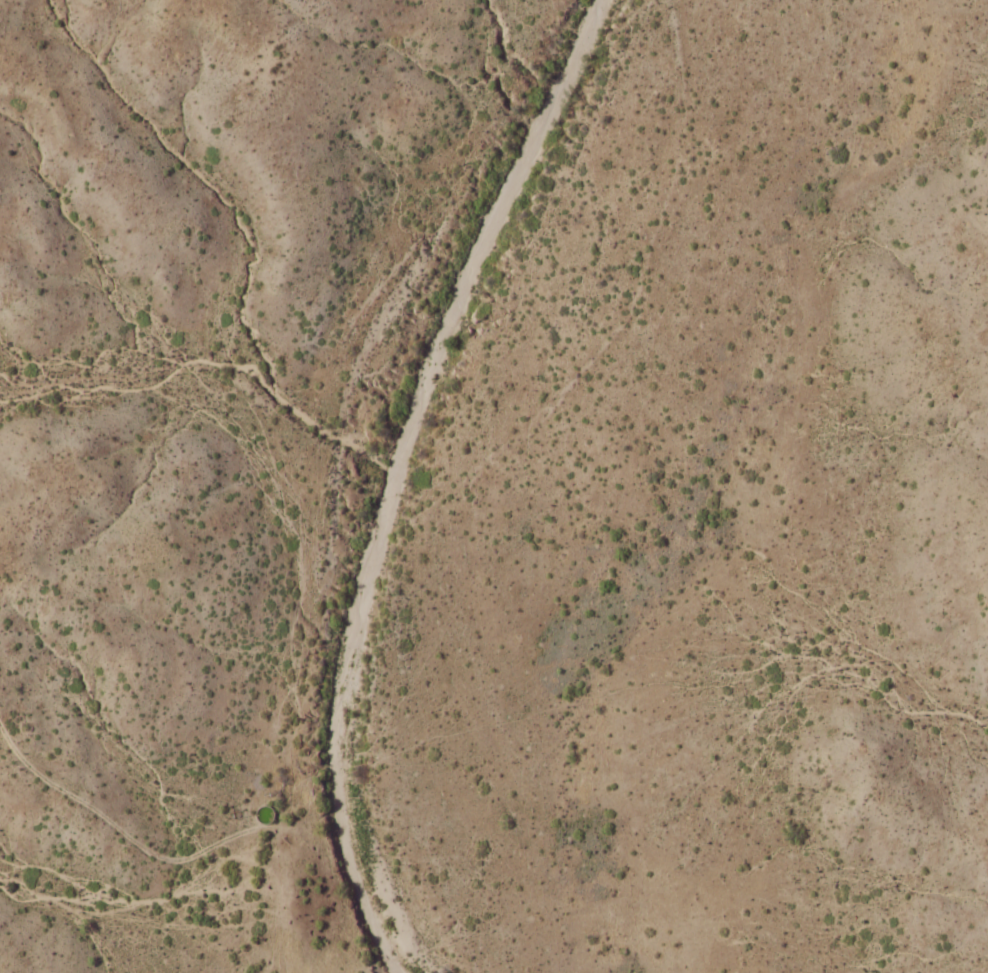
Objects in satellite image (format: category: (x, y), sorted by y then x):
road: (111, 814)

